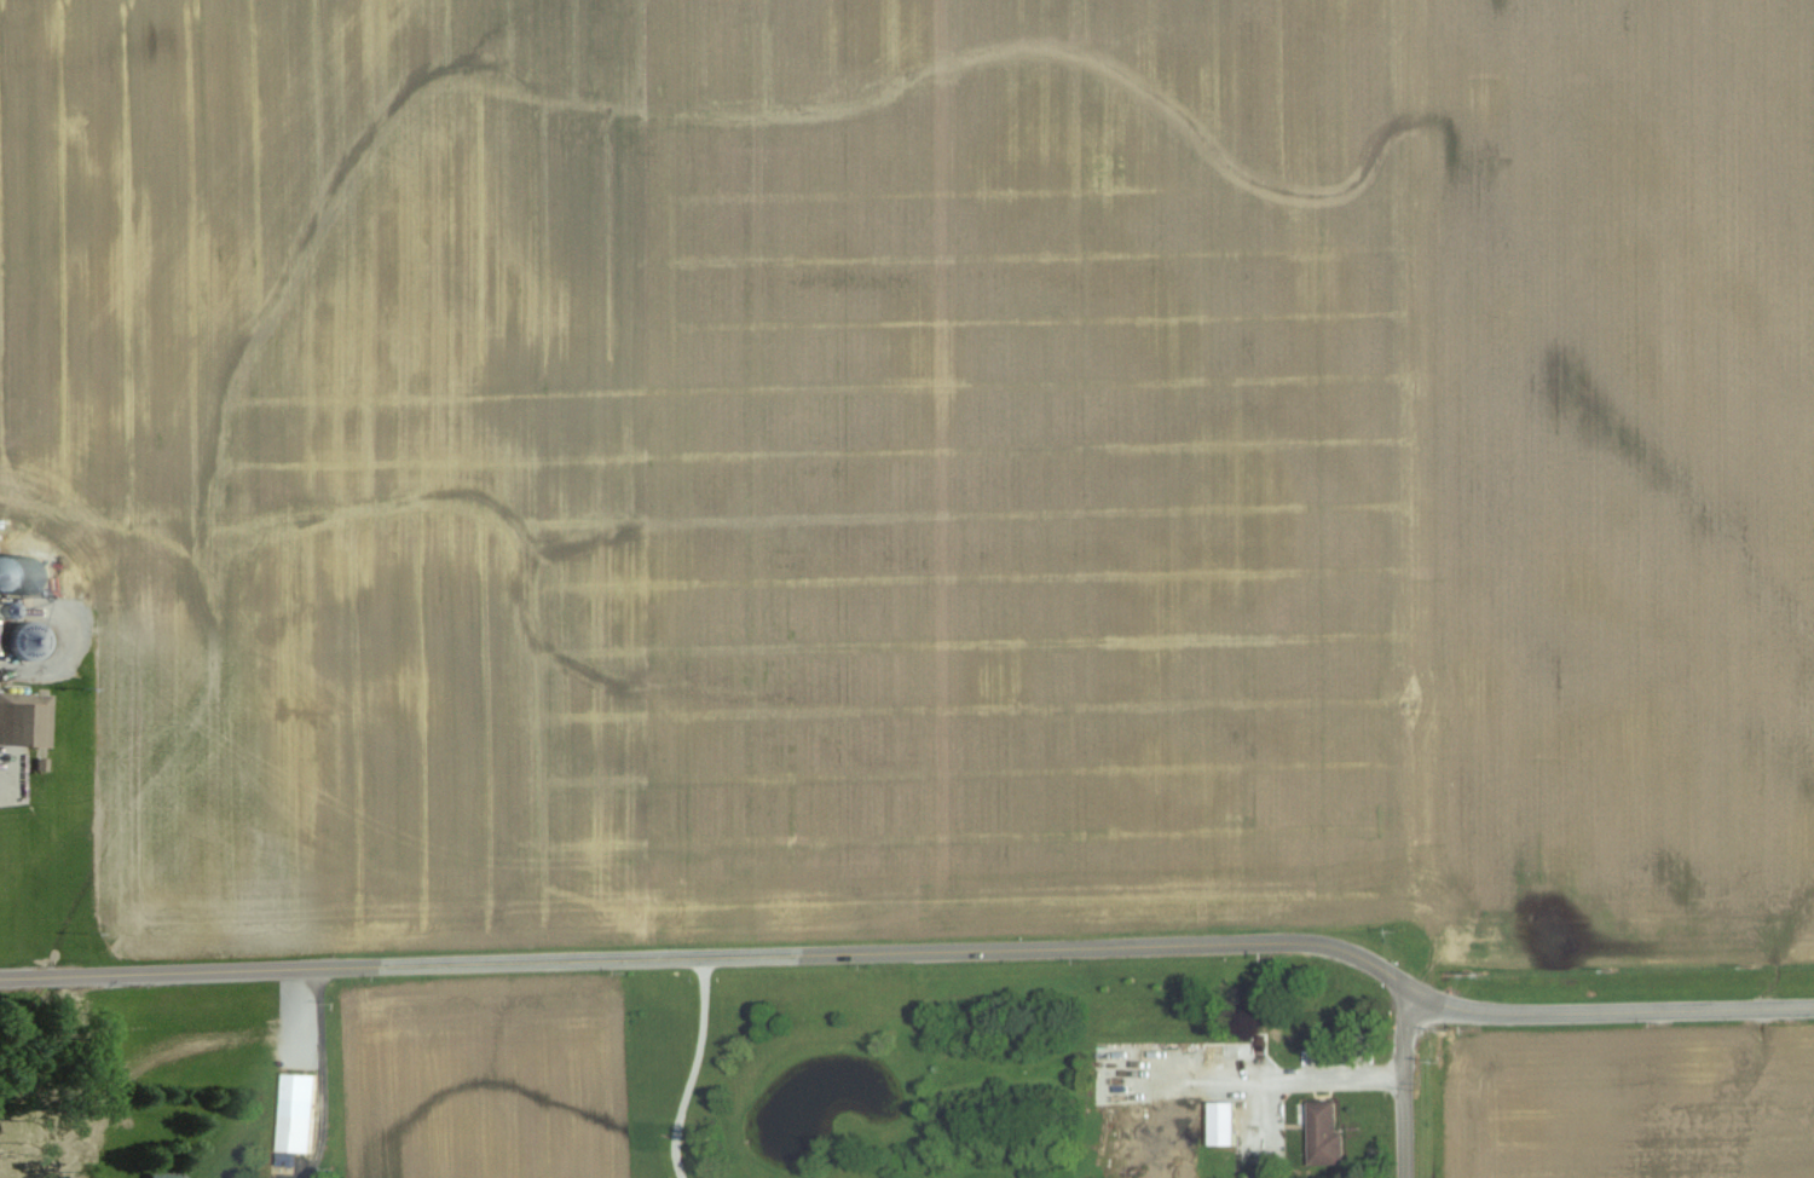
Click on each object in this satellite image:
building: (24, 721)
road: (717, 955)
road: (1616, 1011)
road: (694, 1069)
road: (334, 1074)
road: (1289, 1080)
road: (1403, 1085)
building: (297, 1114)
building: (1224, 1125)
building: (1325, 1133)

